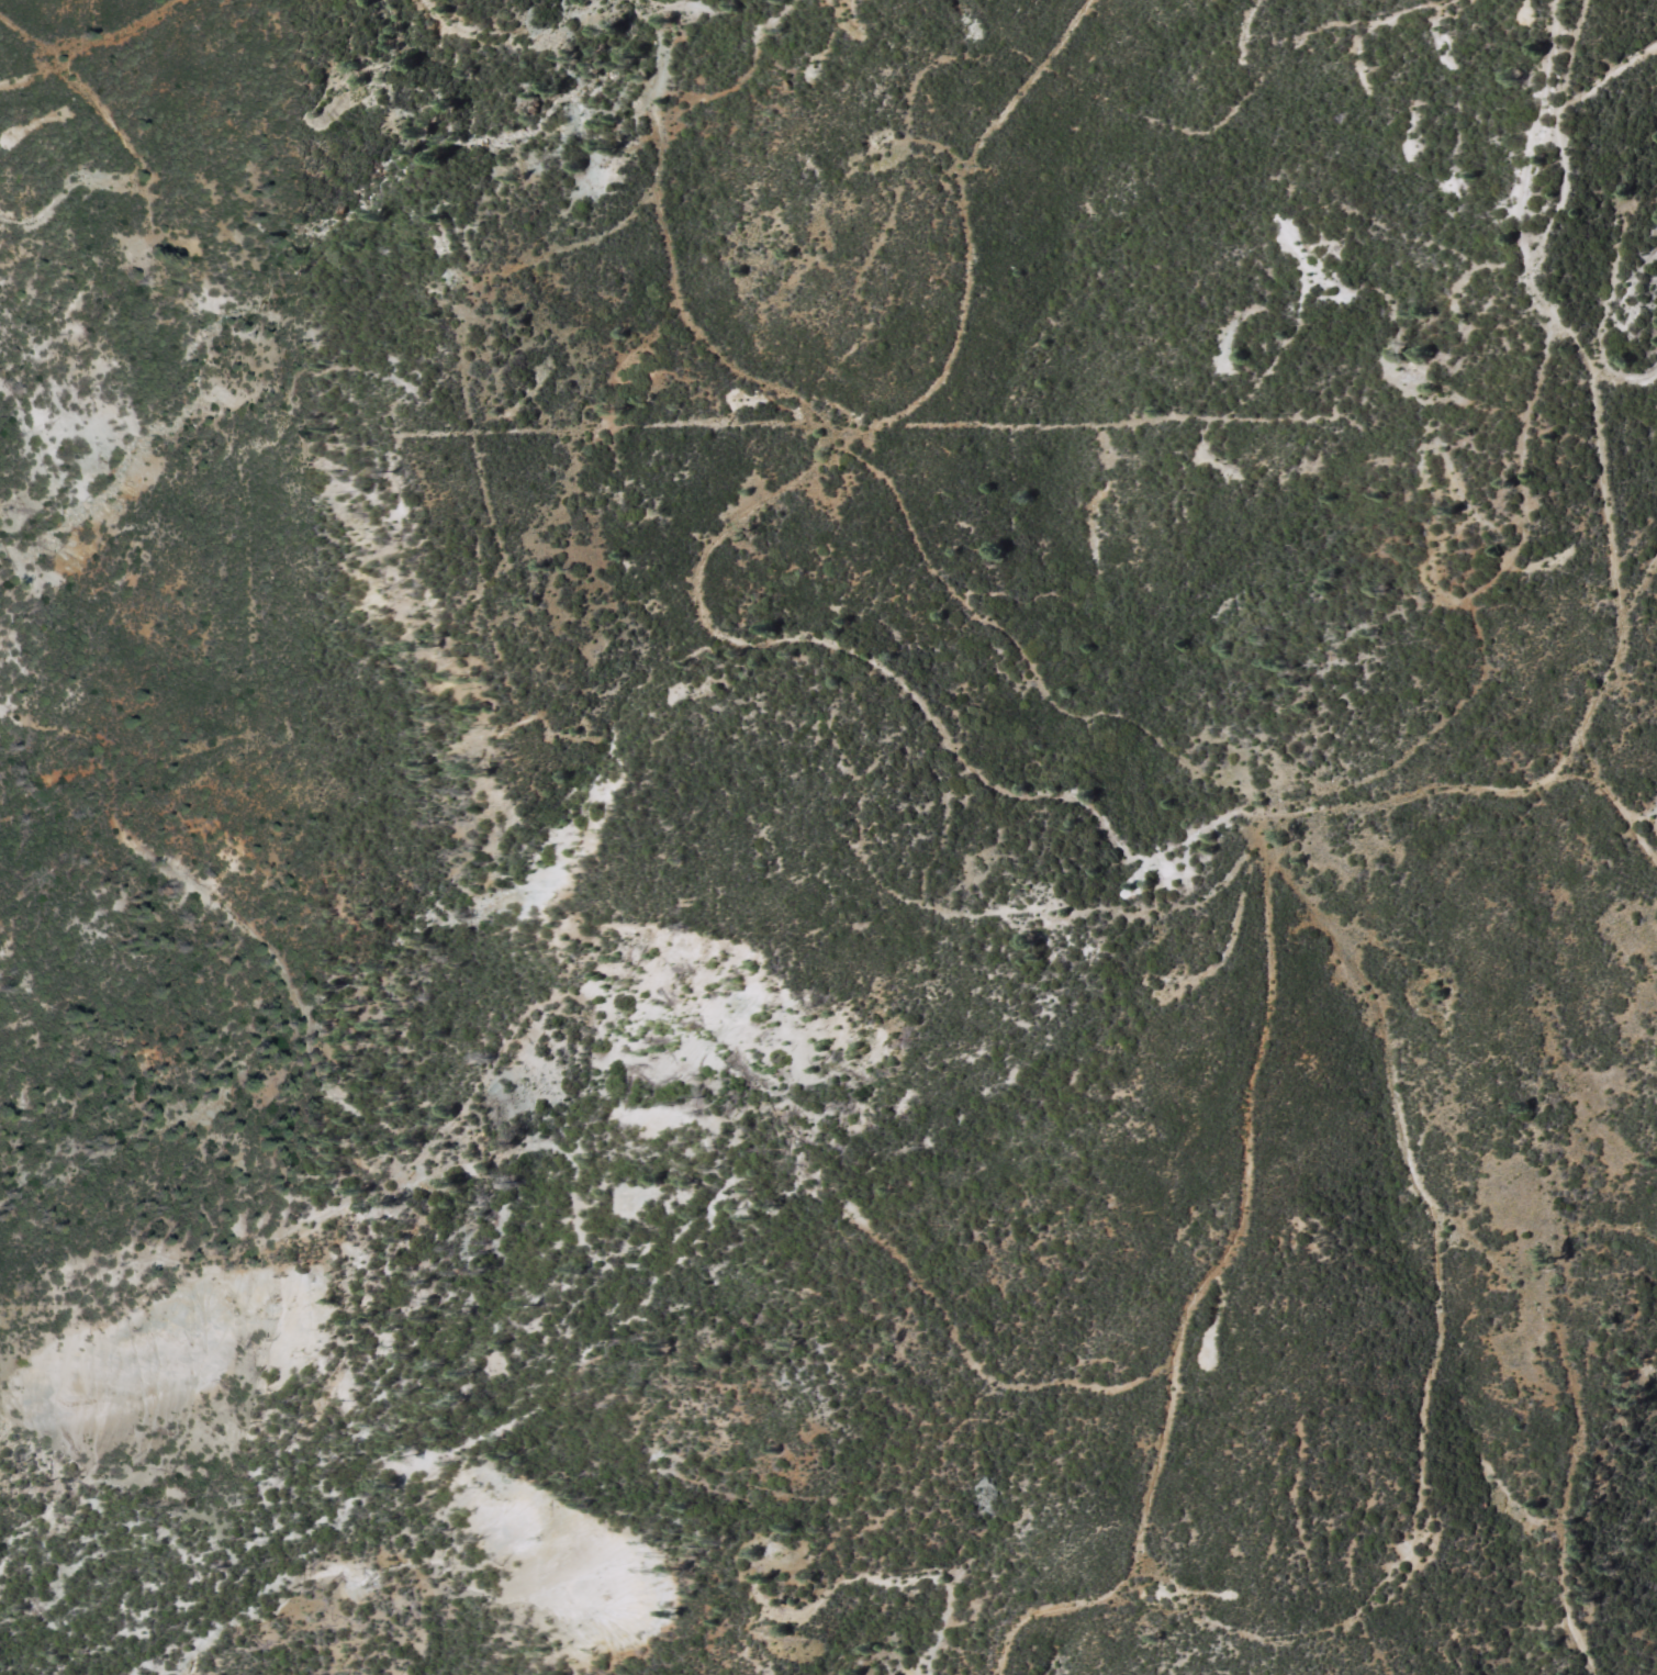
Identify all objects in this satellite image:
quarry: (1583, 1553)

